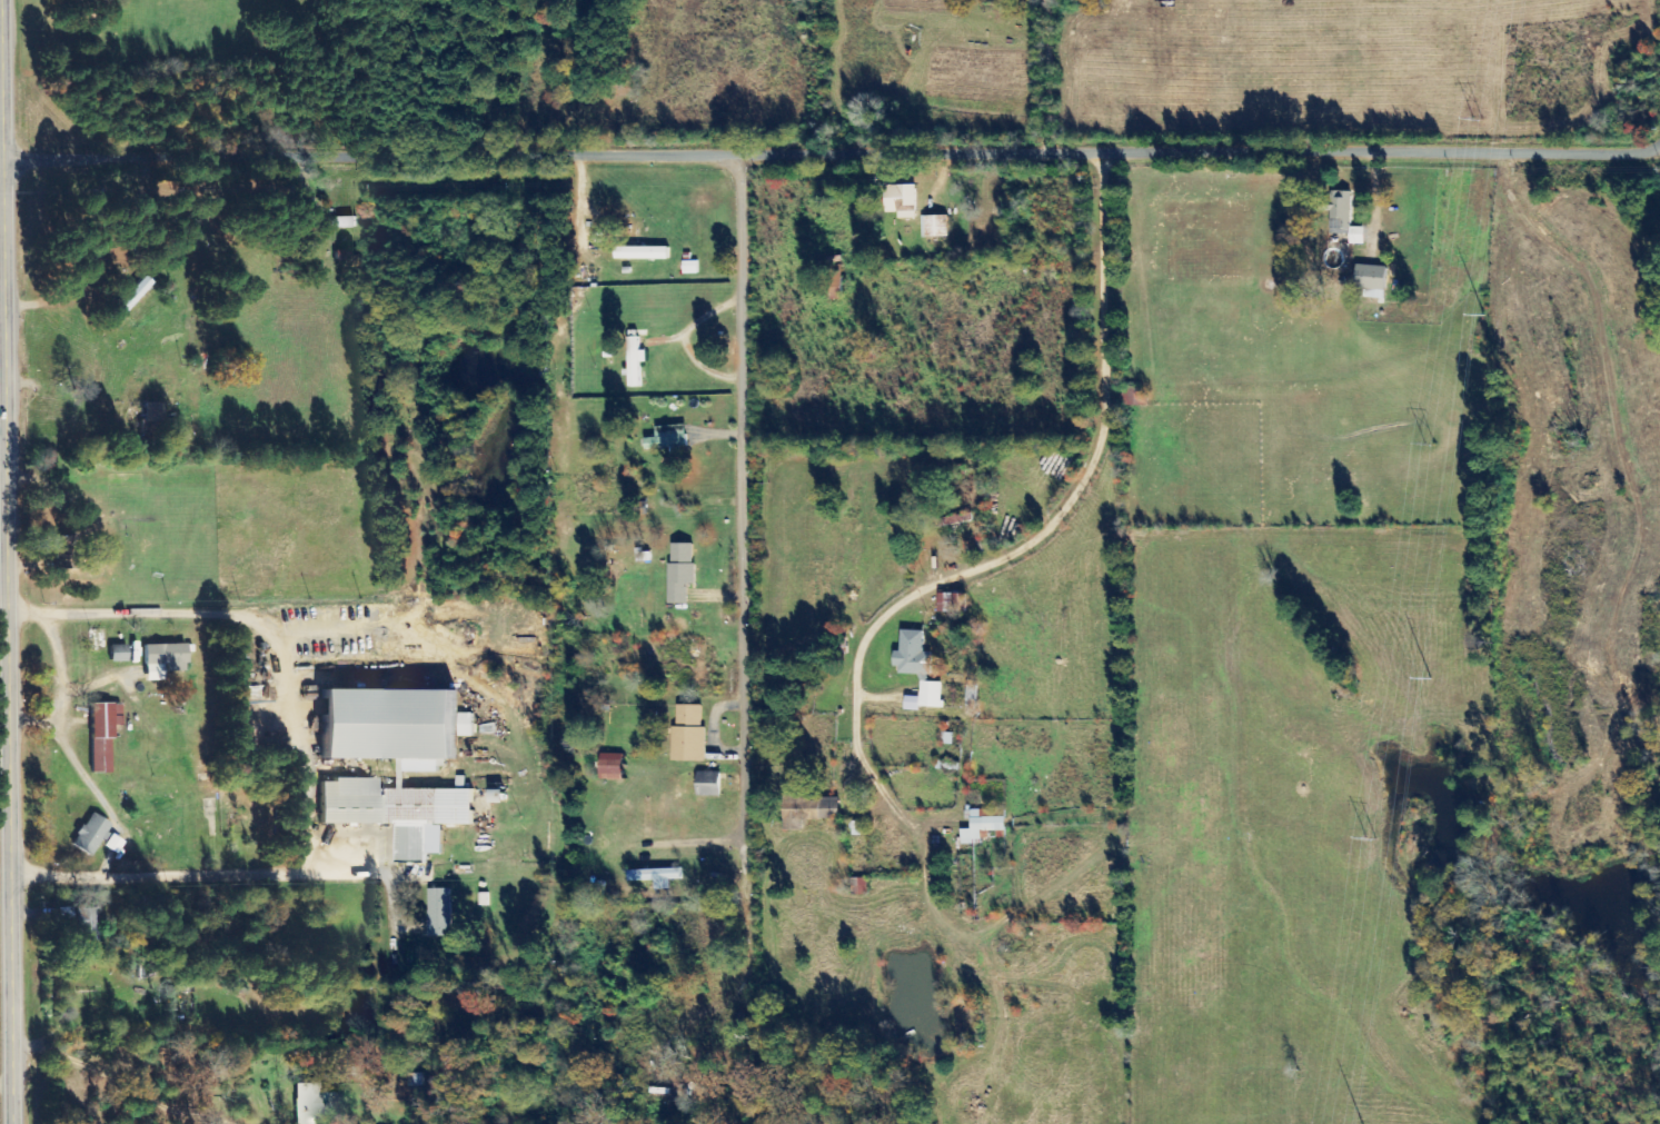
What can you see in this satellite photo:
road: (829, 153)
building: (901, 200)
building: (336, 222)
building: (934, 226)
building: (640, 252)
building: (689, 267)
building: (1371, 277)
building: (128, 299)
building: (635, 361)
building: (149, 416)
building: (667, 437)
building: (954, 520)
road: (752, 528)
road: (1045, 541)
building: (680, 571)
building: (952, 603)
road: (4, 644)
building: (115, 654)
building: (913, 655)
building: (160, 660)
building: (926, 697)
building: (688, 734)
building: (100, 735)
building: (610, 766)
building: (400, 775)
building: (707, 784)
building: (808, 810)
building: (982, 825)
building: (92, 837)
road: (215, 875)
building: (656, 877)
building: (439, 913)
building: (83, 927)
building: (416, 1080)
building: (310, 1103)

